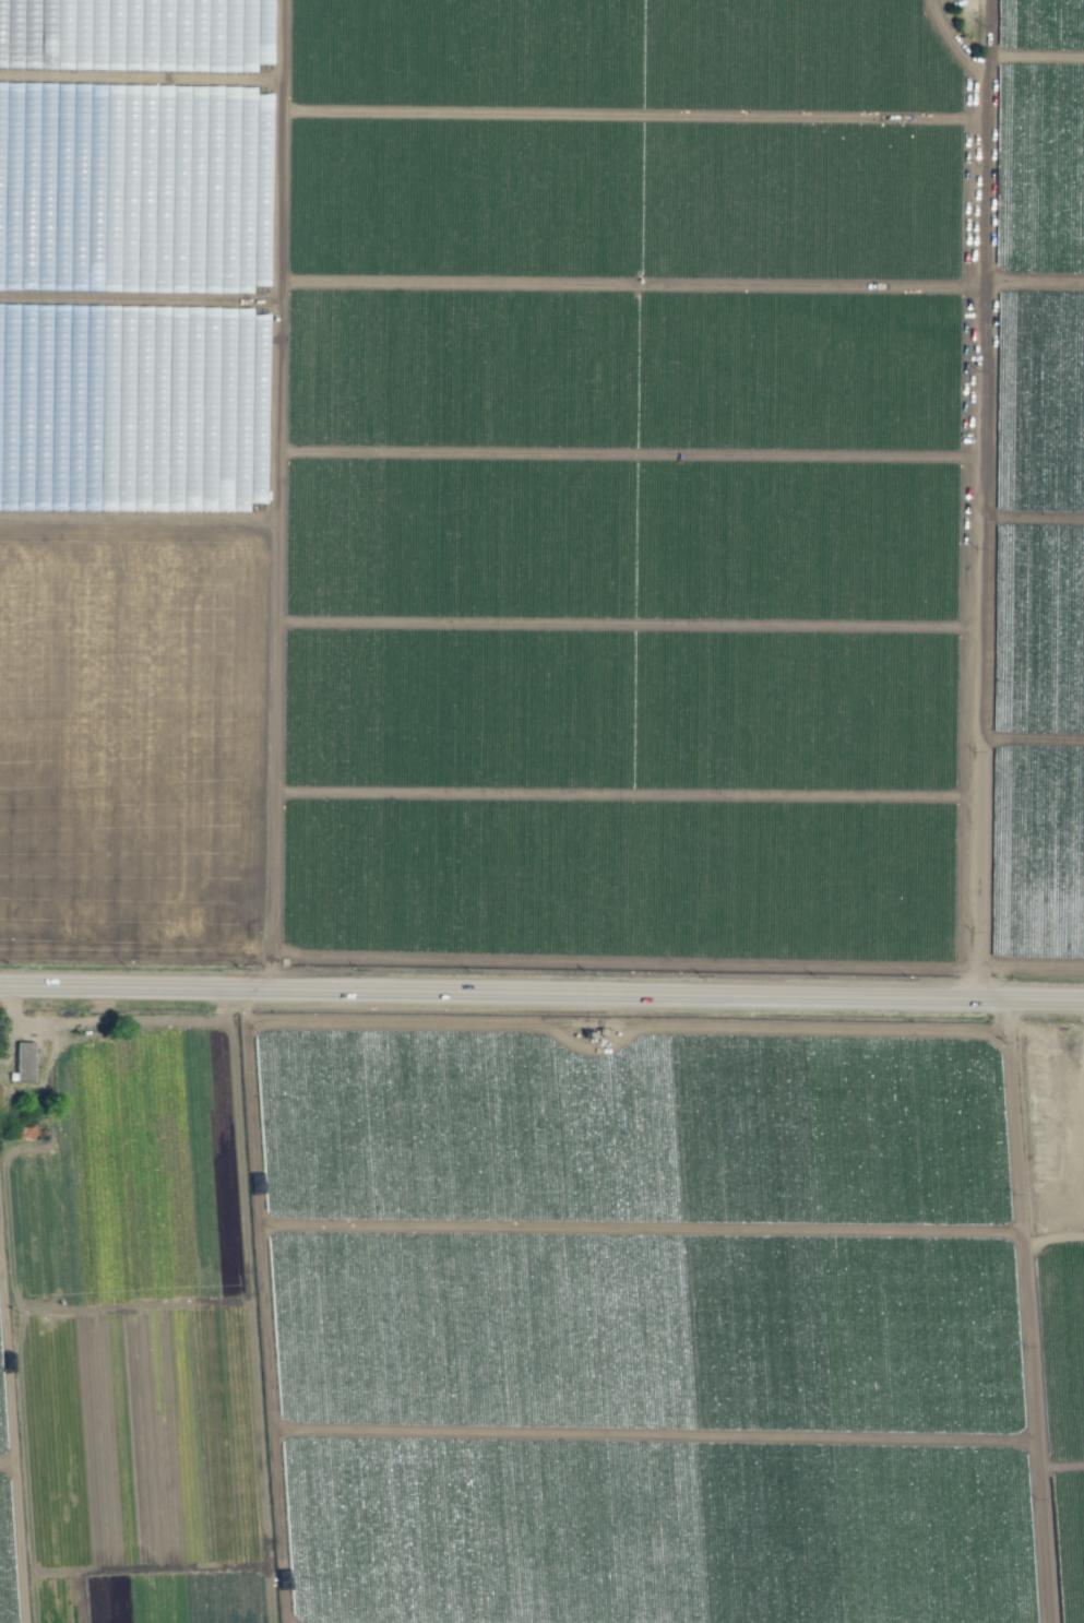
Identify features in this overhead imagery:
building: (16, 60)
building: (178, 90)
building: (46, 104)
road: (1034, 282)
road: (980, 505)
road: (266, 730)
crop: (541, 811)
road: (541, 993)
building: (23, 1062)
road: (1025, 1310)

